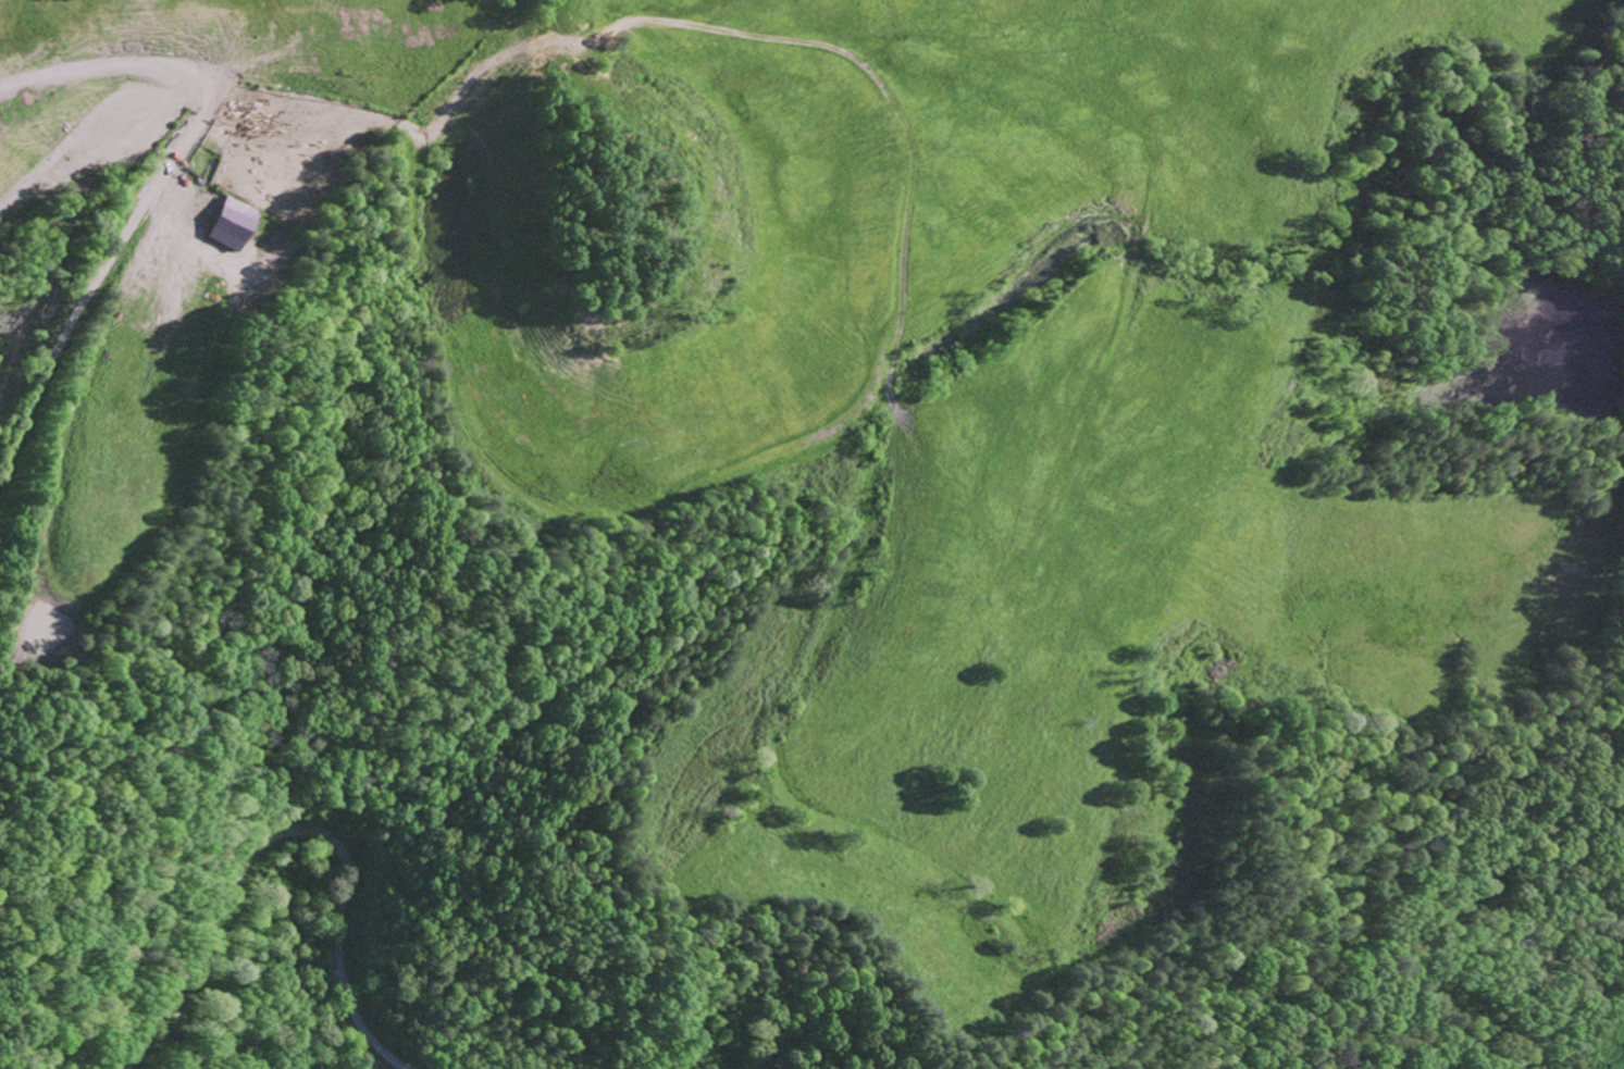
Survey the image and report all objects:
road: (160, 178)
building: (234, 224)
road: (287, 820)

